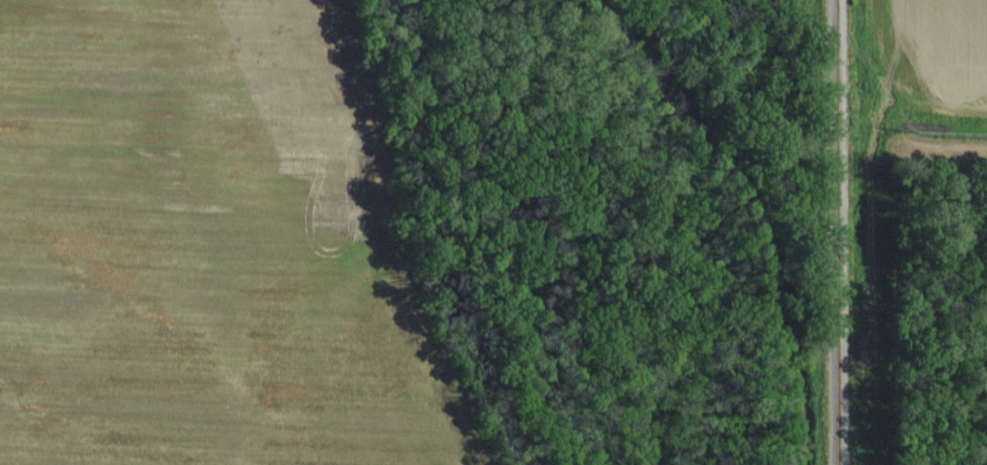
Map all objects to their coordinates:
railway: (838, 232)

